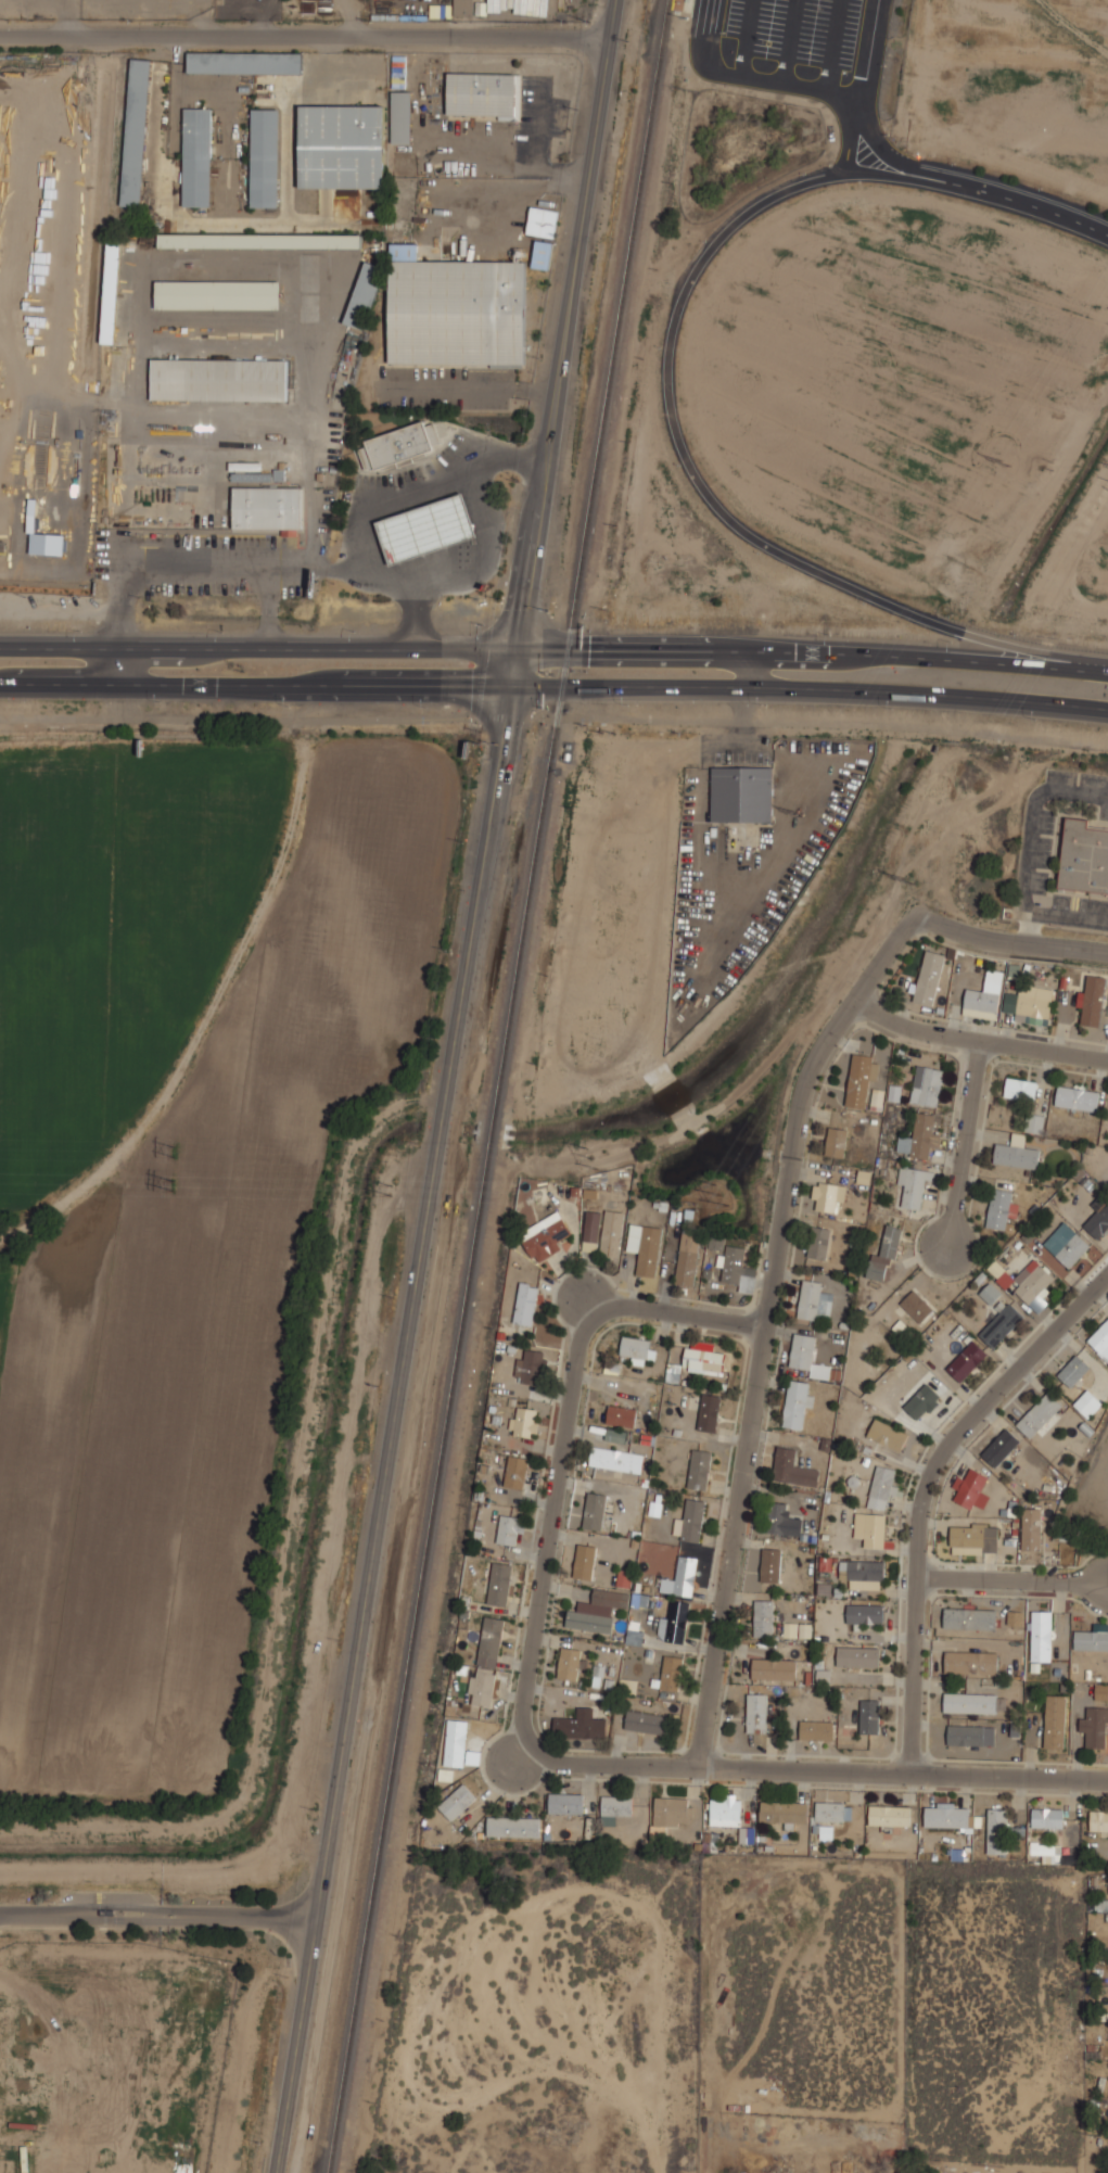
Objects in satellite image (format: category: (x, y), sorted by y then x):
building: (464, 7)
railway: (682, 9)
road: (259, 15)
road: (352, 17)
road: (742, 35)
road: (303, 36)
road: (785, 39)
road: (829, 43)
parking lot: (790, 46)
building: (245, 62)
road: (794, 81)
building: (485, 93)
building: (403, 117)
building: (137, 131)
road: (852, 131)
building: (343, 147)
building: (198, 156)
building: (266, 157)
road: (977, 195)
building: (544, 221)
building: (262, 240)
building: (544, 254)
building: (112, 291)
building: (218, 294)
building: (366, 295)
building: (456, 308)
road: (563, 341)
building: (220, 379)
building: (400, 447)
power tower: (1034, 460)
road: (710, 505)
building: (268, 507)
building: (428, 529)
road: (118, 627)
road: (284, 649)
traffic signals: (521, 651)
road: (838, 651)
road: (750, 670)
road: (258, 683)
traffic signals: (517, 683)
road: (539, 684)
road: (836, 688)
road: (553, 717)
building: (743, 793)
power tower: (792, 815)
road: (1030, 831)
building: (1084, 856)
power tower: (906, 880)
road: (1068, 916)
road: (1005, 936)
road: (882, 945)
building: (930, 978)
building: (985, 999)
building: (1093, 1001)
building: (1029, 1006)
road: (973, 1044)
building: (859, 1080)
building: (929, 1083)
railway: (499, 1086)
building: (1021, 1089)
building: (895, 1092)
building: (1079, 1096)
building: (877, 1098)
building: (1035, 1122)
building: (920, 1136)
building: (837, 1141)
power tower: (578, 1147)
road: (965, 1147)
power tower: (164, 1152)
building: (1018, 1152)
power tower: (588, 1172)
building: (915, 1185)
power tower: (163, 1191)
building: (829, 1195)
power tower: (389, 1196)
crop: (179, 1205)
building: (999, 1208)
building: (1098, 1222)
building: (591, 1231)
building: (611, 1233)
building: (545, 1236)
building: (819, 1242)
building: (715, 1243)
building: (645, 1247)
building: (1073, 1250)
building: (886, 1255)
building: (687, 1259)
building: (731, 1263)
building: (1028, 1283)
building: (991, 1294)
building: (815, 1300)
building: (525, 1304)
building: (918, 1305)
building: (1003, 1324)
building: (1100, 1339)
building: (639, 1348)
building: (704, 1357)
building: (807, 1357)
building: (968, 1361)
building: (531, 1367)
building: (1073, 1370)
building: (674, 1372)
road: (757, 1373)
building: (924, 1401)
building: (798, 1403)
building: (1087, 1403)
building: (710, 1413)
building: (1039, 1414)
building: (622, 1415)
building: (524, 1422)
building: (820, 1426)
road: (394, 1427)
building: (615, 1435)
building: (889, 1435)
road: (563, 1439)
road: (403, 1444)
building: (1001, 1447)
building: (617, 1459)
building: (793, 1467)
building: (701, 1469)
building: (515, 1472)
building: (882, 1486)
building: (971, 1489)
road: (928, 1490)
building: (596, 1510)
building: (777, 1516)
building: (691, 1520)
building: (509, 1528)
building: (873, 1528)
building: (1031, 1529)
building: (973, 1539)
building: (585, 1561)
building: (772, 1564)
building: (863, 1570)
building: (625, 1575)
building: (686, 1575)
road: (1014, 1579)
building: (499, 1584)
building: (612, 1597)
building: (639, 1599)
building: (866, 1613)
building: (764, 1617)
building: (1015, 1617)
building: (970, 1618)
building: (590, 1621)
building: (676, 1621)
building: (804, 1630)
building: (1041, 1636)
building: (1092, 1638)
building: (491, 1642)
building: (858, 1656)
building: (570, 1662)
building: (970, 1662)
building: (774, 1668)
building: (672, 1674)
building: (482, 1687)
building: (1100, 1691)
building: (970, 1703)
building: (757, 1714)
building: (870, 1716)
building: (648, 1721)
building: (1055, 1721)
building: (581, 1727)
building: (1095, 1727)
building: (818, 1731)
building: (966, 1736)
building: (456, 1743)
building: (473, 1757)
road: (812, 1770)
building: (456, 1803)
building: (565, 1803)
building: (614, 1808)
building: (671, 1810)
building: (726, 1812)
building: (784, 1812)
building: (833, 1812)
building: (889, 1816)
building: (946, 1816)
building: (1047, 1817)
building: (1098, 1820)
building: (513, 1827)
building: (996, 1831)
building: (1046, 1852)
building: (1098, 1905)
road: (157, 1918)

